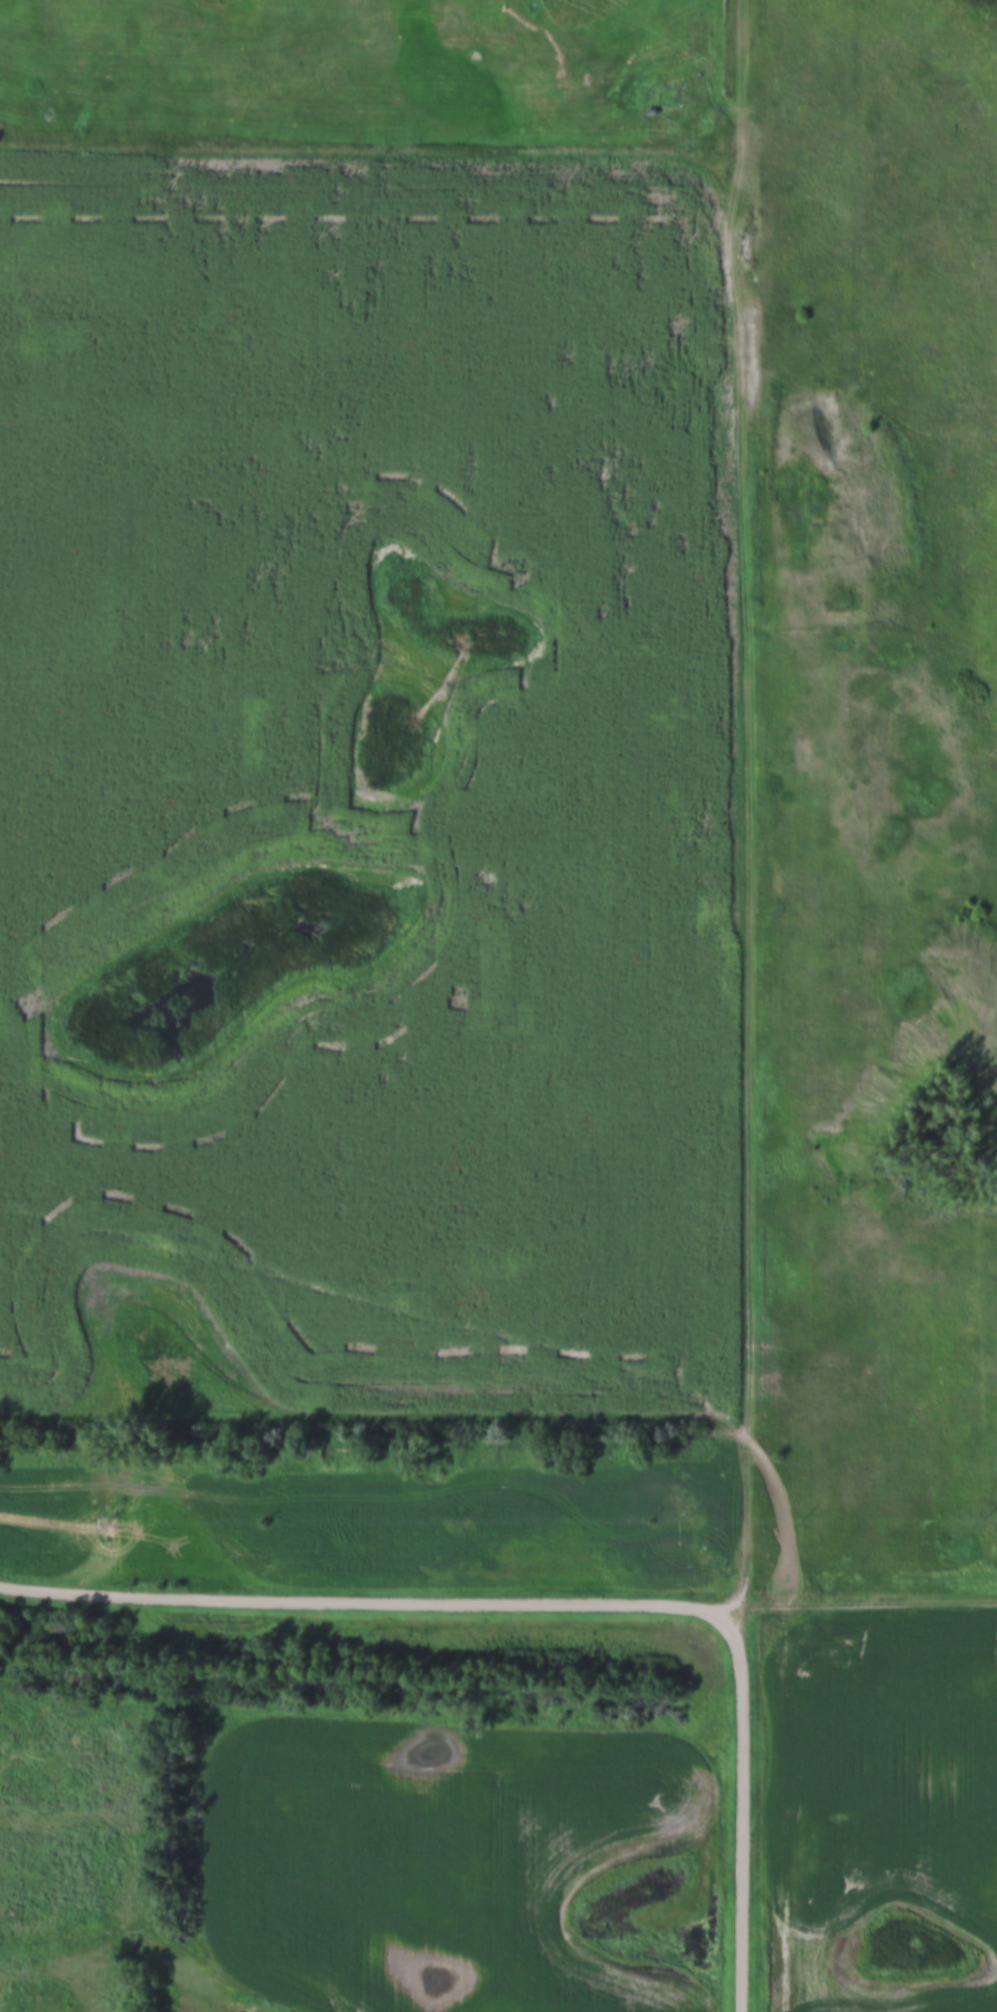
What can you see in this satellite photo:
road: (761, 813)
road: (357, 1601)
road: (860, 1601)
road: (746, 1807)

